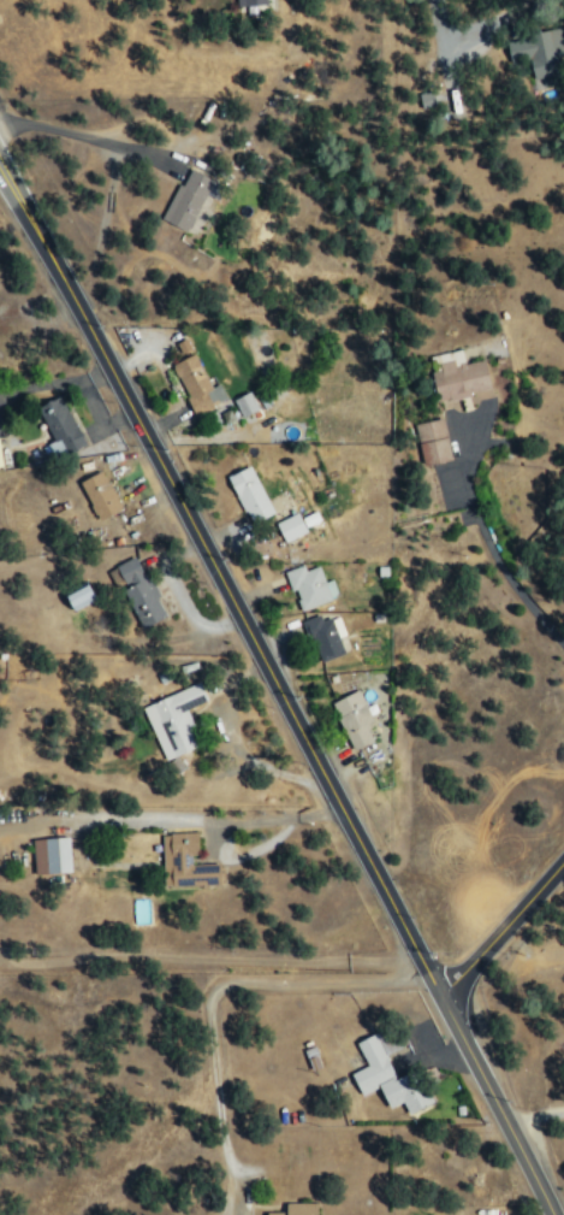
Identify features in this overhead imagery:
building: (251, 2)
building: (539, 52)
building: (427, 98)
building: (188, 199)
building: (458, 379)
building: (197, 384)
building: (245, 405)
building: (61, 429)
building: (434, 442)
building: (0, 460)
building: (101, 495)
building: (251, 495)
building: (291, 526)
road: (221, 580)
building: (310, 586)
building: (141, 591)
building: (81, 596)
building: (326, 636)
building: (354, 719)
building: (174, 721)
building: (52, 856)
building: (186, 863)
road: (501, 928)
building: (387, 1074)
road: (497, 1105)
building: (298, 1209)

